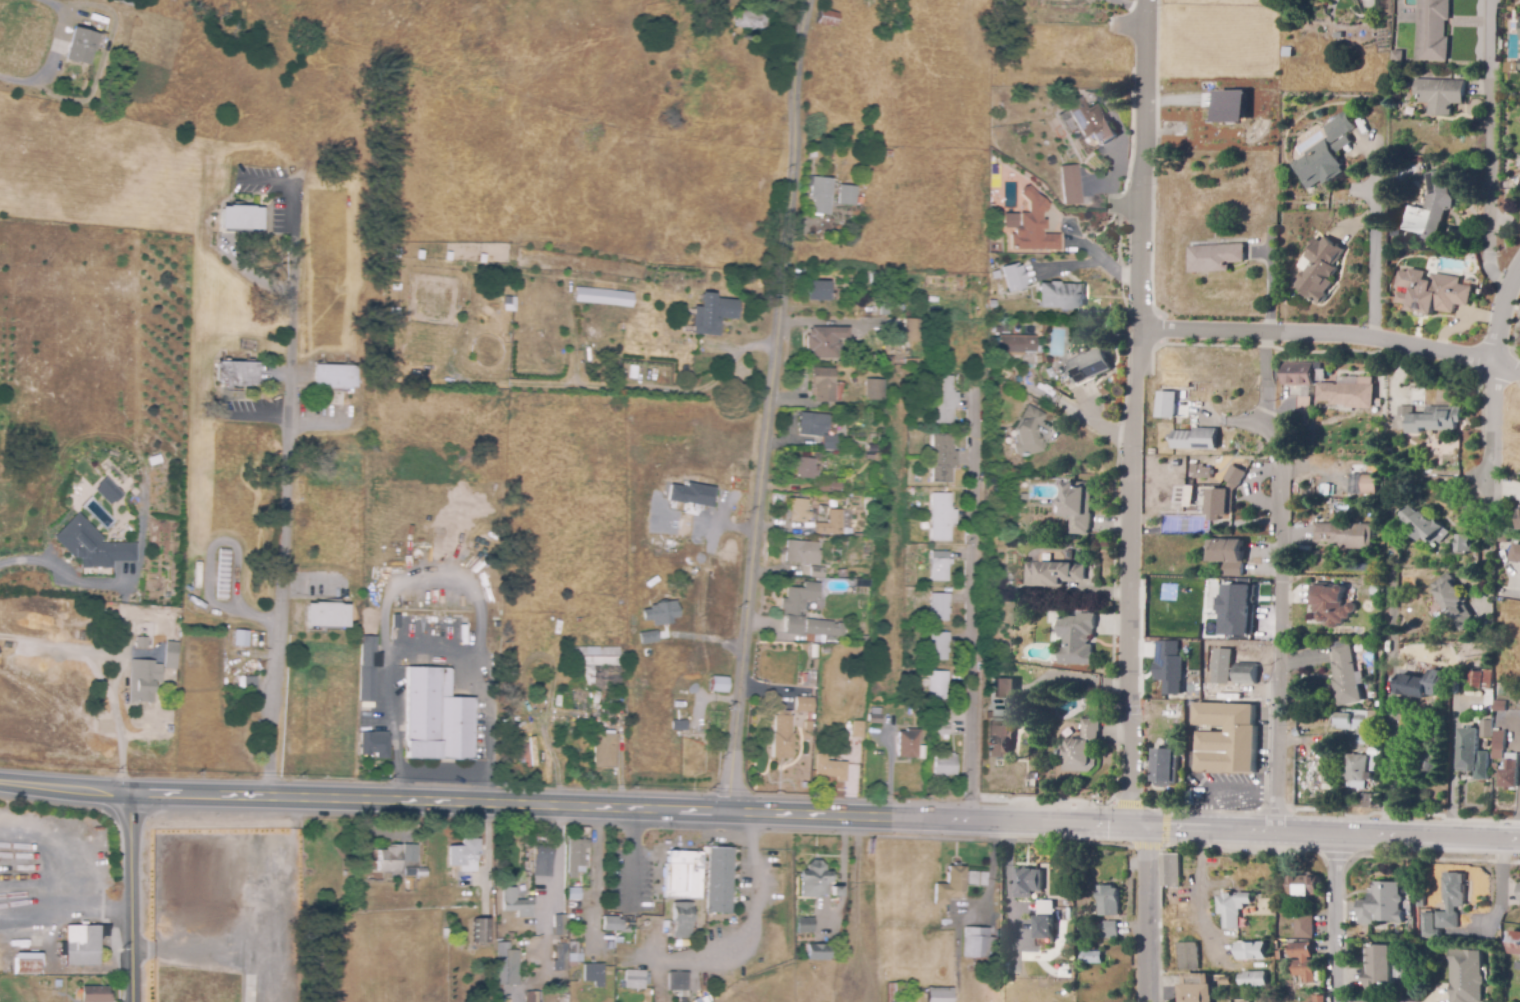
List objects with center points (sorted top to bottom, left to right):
building: (124, 2)
building: (826, 18)
building: (751, 21)
building: (1433, 30)
building: (1338, 36)
building: (80, 46)
building: (1288, 52)
building: (1398, 56)
road: (48, 57)
building: (1458, 77)
building: (1440, 94)
road: (1492, 105)
building: (1234, 107)
building: (1089, 121)
building: (1066, 122)
building: (813, 154)
building: (887, 154)
building: (1322, 155)
building: (1071, 185)
building: (820, 194)
building: (847, 195)
building: (1431, 209)
building: (1256, 216)
building: (244, 218)
building: (1030, 225)
road: (1488, 232)
road: (1377, 241)
building: (1213, 256)
road: (1094, 261)
building: (1318, 269)
road: (1493, 274)
building: (1013, 278)
building: (877, 279)
building: (502, 284)
building: (818, 291)
building: (1430, 291)
building: (603, 295)
building: (1056, 296)
building: (712, 314)
road: (1504, 314)
building: (913, 330)
building: (994, 333)
road: (1330, 337)
building: (825, 342)
building: (1519, 342)
building: (995, 344)
building: (1017, 345)
building: (1030, 360)
building: (911, 362)
building: (1089, 366)
building: (1297, 373)
building: (236, 374)
building: (334, 376)
building: (823, 384)
building: (1007, 385)
building: (874, 390)
building: (1347, 394)
building: (943, 399)
road: (765, 404)
building: (1180, 405)
building: (1303, 405)
building: (1404, 409)
building: (1435, 420)
building: (813, 424)
building: (1028, 432)
building: (873, 438)
building: (1196, 438)
building: (830, 443)
building: (871, 448)
building: (160, 457)
building: (942, 458)
building: (805, 468)
building: (1202, 472)
road: (1458, 478)
road: (1490, 480)
building: (1368, 483)
building: (110, 487)
building: (829, 487)
building: (1326, 488)
road: (285, 491)
building: (103, 493)
building: (694, 493)
building: (1152, 494)
building: (1225, 495)
building: (1023, 499)
road: (1130, 502)
building: (1077, 506)
building: (1014, 510)
building: (799, 511)
building: (941, 517)
building: (1519, 521)
building: (834, 523)
building: (1424, 526)
building: (1344, 535)
building: (1463, 544)
building: (91, 545)
building: (802, 553)
building: (1515, 554)
building: (1229, 556)
building: (223, 557)
road: (36, 559)
building: (940, 566)
building: (1020, 568)
building: (1214, 571)
building: (816, 572)
building: (841, 573)
building: (1054, 574)
building: (221, 587)
building: (1373, 591)
building: (1453, 601)
building: (1330, 604)
building: (937, 605)
building: (797, 606)
building: (1239, 608)
building: (663, 612)
building: (327, 615)
road: (1280, 615)
building: (396, 619)
building: (822, 630)
building: (647, 635)
building: (241, 638)
building: (1077, 639)
building: (143, 643)
road: (978, 648)
building: (171, 658)
road: (124, 661)
building: (597, 665)
building: (1169, 665)
building: (1222, 665)
road: (472, 666)
building: (368, 667)
building: (940, 667)
building: (1246, 674)
building: (1346, 677)
building: (1480, 679)
building: (145, 682)
building: (719, 684)
building: (1420, 686)
building: (1005, 690)
building: (251, 691)
building: (1489, 697)
building: (803, 704)
building: (1499, 706)
building: (875, 716)
building: (437, 717)
building: (1352, 721)
building: (679, 723)
road: (1390, 728)
building: (857, 729)
building: (942, 729)
building: (1485, 729)
road: (395, 733)
building: (1432, 733)
road: (1515, 733)
building: (781, 736)
building: (1227, 738)
building: (999, 739)
building: (908, 743)
building: (374, 744)
building: (1498, 745)
building: (1082, 748)
building: (604, 751)
building: (1470, 754)
building: (945, 766)
building: (1494, 766)
building: (1164, 767)
building: (829, 769)
building: (1357, 770)
building: (1430, 771)
building: (1509, 772)
road: (486, 781)
road: (133, 794)
building: (1365, 801)
road: (1127, 803)
road: (1201, 810)
road: (1518, 810)
road: (1389, 813)
road: (894, 816)
traffic signals: (1135, 824)
road: (1163, 827)
road: (1146, 846)
building: (409, 852)
road: (1242, 852)
building: (464, 854)
road: (633, 856)
road: (1334, 856)
building: (576, 857)
road: (1434, 858)
building: (389, 859)
building: (543, 860)
building: (1171, 870)
building: (409, 872)
building: (422, 872)
building: (683, 875)
road: (842, 877)
building: (977, 878)
road: (598, 879)
building: (719, 879)
building: (814, 880)
building: (1028, 883)
building: (951, 886)
building: (1304, 886)
building: (573, 891)
building: (836, 891)
building: (1519, 892)
road: (131, 897)
building: (1451, 900)
building: (1108, 901)
building: (516, 903)
building: (1383, 905)
road: (66, 908)
building: (1233, 909)
road: (1335, 918)
building: (1044, 919)
building: (682, 920)
building: (612, 924)
building: (805, 926)
building: (1304, 926)
building: (1110, 930)
building: (481, 931)
road: (750, 931)
building: (574, 935)
building: (974, 942)
building: (1514, 943)
building: (83, 945)
building: (1277, 945)
building: (1251, 950)
building: (818, 952)
building: (574, 953)
building: (1188, 956)
building: (1278, 956)
building: (559, 957)
building: (1092, 957)
building: (1303, 961)
building: (26, 963)
building: (509, 967)
building: (1379, 967)
building: (593, 974)
building: (1465, 975)
building: (630, 979)
building: (1253, 980)
building: (677, 982)
building: (1196, 988)
building: (896, 992)
building: (938, 994)
building: (96, 995)
building: (533, 997)
building: (1320, 999)
building: (701, 1000)
road: (1441, 1000)

